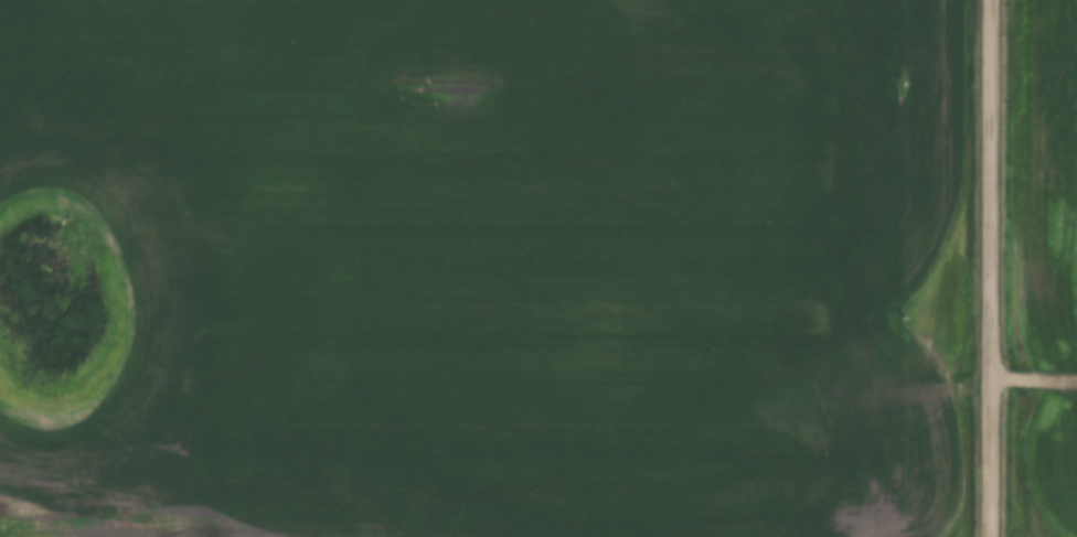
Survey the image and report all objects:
road: (990, 268)
road: (1033, 376)

